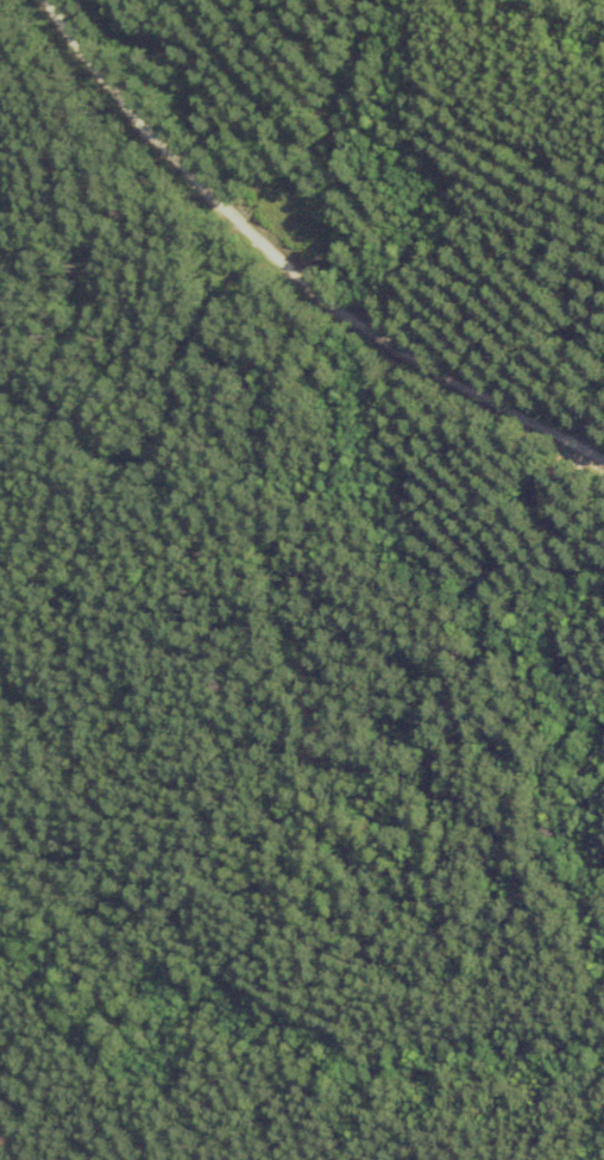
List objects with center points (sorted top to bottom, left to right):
road: (297, 275)

